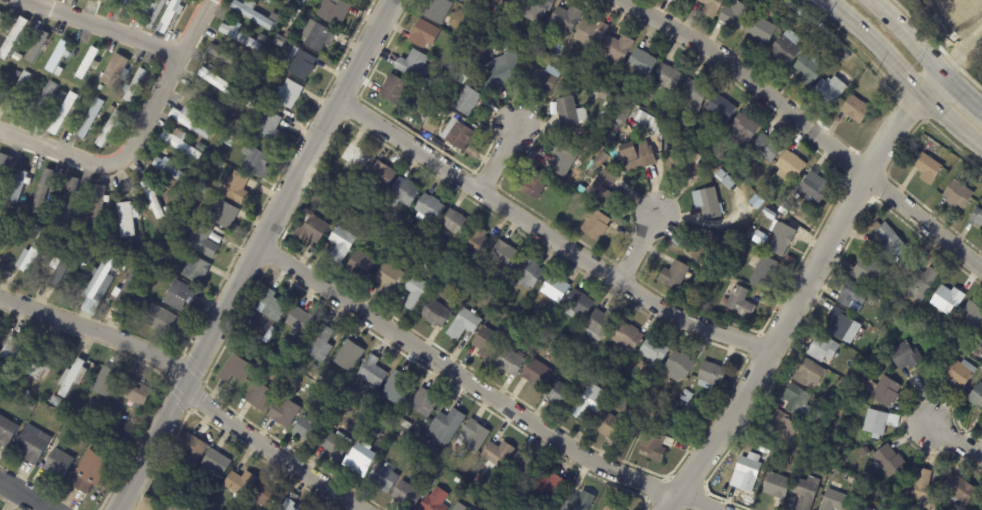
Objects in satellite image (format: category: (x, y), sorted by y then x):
building: (86, 0)
building: (111, 0)
building: (112, 0)
building: (304, 1)
building: (516, 1)
building: (685, 1)
building: (274, 2)
building: (462, 2)
building: (301, 6)
building: (537, 6)
building: (709, 7)
building: (130, 8)
building: (335, 11)
building: (436, 11)
building: (154, 12)
building: (254, 13)
building: (734, 15)
building: (173, 16)
building: (274, 16)
building: (565, 17)
building: (2, 19)
building: (503, 24)
road: (110, 26)
building: (461, 27)
building: (759, 30)
building: (589, 33)
building: (290, 34)
building: (422, 34)
road: (905, 35)
building: (318, 36)
building: (242, 37)
building: (263, 38)
building: (15, 39)
building: (280, 40)
building: (41, 46)
building: (784, 48)
building: (616, 49)
building: (61, 56)
building: (231, 59)
building: (844, 60)
building: (90, 62)
building: (41, 63)
building: (303, 63)
building: (641, 63)
building: (411, 64)
building: (808, 69)
building: (500, 71)
building: (118, 72)
road: (902, 73)
building: (2, 77)
building: (667, 77)
building: (539, 79)
building: (221, 83)
building: (242, 83)
road: (931, 83)
building: (137, 85)
building: (89, 86)
building: (102, 88)
building: (828, 89)
road: (960, 89)
building: (393, 91)
building: (38, 92)
building: (292, 93)
building: (18, 94)
building: (63, 94)
building: (122, 95)
building: (691, 96)
building: (633, 97)
building: (607, 98)
building: (464, 100)
building: (203, 101)
building: (254, 101)
building: (41, 102)
building: (233, 106)
building: (720, 108)
building: (855, 109)
building: (112, 110)
building: (62, 113)
building: (569, 113)
building: (623, 113)
building: (90, 119)
building: (192, 122)
building: (645, 122)
building: (238, 124)
building: (271, 126)
building: (430, 126)
building: (111, 128)
road: (804, 129)
building: (741, 131)
building: (456, 134)
building: (606, 134)
road: (137, 136)
building: (232, 141)
building: (610, 143)
building: (183, 144)
building: (202, 145)
building: (765, 148)
building: (471, 153)
building: (714, 154)
road: (496, 156)
building: (635, 156)
building: (353, 157)
building: (562, 157)
building: (257, 161)
building: (597, 162)
building: (220, 165)
building: (681, 165)
building: (788, 166)
building: (194, 167)
building: (5, 169)
building: (926, 169)
building: (176, 170)
building: (720, 173)
building: (380, 175)
building: (580, 182)
building: (533, 185)
building: (22, 186)
building: (240, 187)
building: (813, 187)
building: (578, 189)
building: (601, 189)
building: (43, 191)
building: (957, 193)
building: (401, 194)
building: (72, 199)
building: (155, 199)
building: (757, 202)
building: (170, 204)
building: (705, 204)
building: (100, 208)
building: (427, 209)
building: (784, 209)
building: (227, 214)
building: (976, 217)
building: (129, 220)
building: (185, 220)
building: (16, 223)
building: (453, 223)
building: (109, 224)
building: (594, 225)
building: (392, 227)
building: (38, 228)
building: (310, 230)
building: (4, 232)
building: (68, 237)
road: (546, 238)
building: (753, 239)
building: (141, 240)
building: (680, 240)
building: (780, 240)
building: (205, 241)
building: (887, 241)
building: (475, 243)
building: (339, 244)
building: (739, 245)
building: (703, 248)
road: (635, 250)
road: (250, 253)
building: (32, 255)
building: (502, 256)
building: (65, 265)
building: (358, 265)
building: (865, 268)
building: (199, 269)
building: (56, 270)
building: (162, 272)
building: (763, 272)
building: (527, 274)
building: (672, 275)
building: (387, 276)
building: (100, 277)
building: (148, 282)
building: (921, 282)
building: (127, 284)
building: (553, 289)
building: (149, 293)
building: (411, 293)
building: (851, 294)
building: (182, 295)
building: (947, 298)
building: (723, 301)
building: (739, 302)
road: (793, 302)
building: (576, 304)
building: (88, 306)
building: (271, 306)
building: (884, 306)
building: (914, 311)
building: (435, 313)
building: (725, 313)
building: (970, 316)
building: (163, 321)
building: (298, 323)
building: (461, 324)
building: (841, 324)
building: (599, 325)
building: (869, 329)
building: (953, 335)
building: (626, 338)
building: (941, 343)
building: (981, 343)
building: (485, 344)
building: (318, 345)
building: (821, 347)
building: (976, 349)
building: (651, 352)
building: (8, 354)
building: (904, 356)
building: (347, 357)
building: (41, 361)
building: (508, 362)
building: (677, 367)
building: (234, 370)
building: (957, 371)
building: (370, 372)
building: (808, 373)
building: (534, 374)
building: (709, 376)
building: (321, 377)
building: (73, 378)
building: (108, 382)
road: (187, 386)
building: (393, 389)
road: (475, 389)
building: (883, 389)
building: (22, 390)
building: (139, 392)
building: (348, 393)
building: (852, 393)
building: (558, 394)
building: (975, 395)
building: (258, 397)
building: (684, 397)
building: (366, 398)
building: (833, 399)
building: (59, 400)
building: (796, 400)
building: (422, 403)
building: (588, 403)
building: (282, 413)
building: (878, 422)
building: (403, 424)
building: (668, 424)
building: (608, 426)
building: (371, 428)
building: (444, 428)
building: (780, 428)
building: (306, 429)
building: (7, 431)
building: (382, 435)
building: (405, 435)
building: (472, 436)
road: (956, 442)
building: (35, 446)
building: (332, 446)
building: (653, 446)
building: (190, 449)
building: (434, 454)
building: (496, 456)
building: (888, 459)
building: (358, 461)
building: (59, 463)
building: (213, 464)
building: (522, 468)
building: (747, 470)
building: (93, 471)
building: (382, 478)
building: (478, 480)
building: (238, 483)
building: (776, 485)
building: (545, 486)
building: (923, 487)
building: (958, 490)
building: (805, 492)
building: (877, 492)
road: (24, 495)
building: (405, 495)
building: (264, 496)
building: (832, 500)
building: (433, 501)
building: (578, 501)
building: (288, 506)
building: (494, 506)
building: (610, 507)
building: (456, 508)
building: (865, 508)

